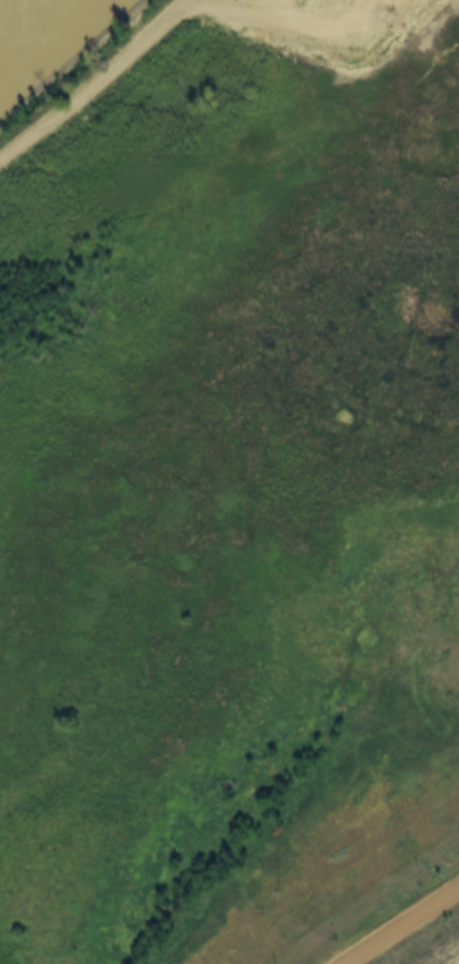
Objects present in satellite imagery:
road: (268, 29)
road: (93, 79)
road: (400, 926)

